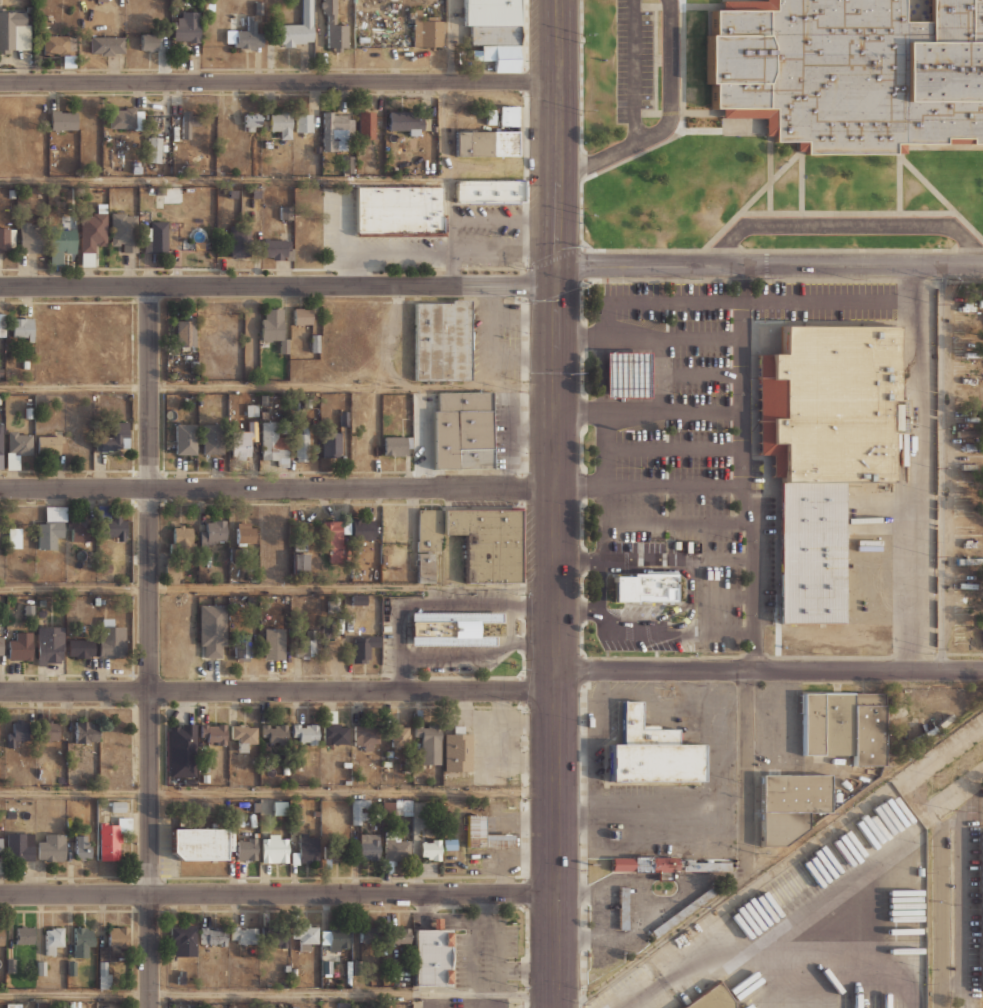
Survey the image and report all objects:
building: (489, 21)
building: (334, 27)
building: (187, 28)
building: (297, 30)
building: (427, 30)
building: (15, 31)
building: (248, 37)
road: (451, 40)
building: (149, 41)
building: (107, 44)
building: (60, 46)
building: (504, 58)
parking lot: (633, 60)
road: (634, 71)
building: (850, 71)
road: (277, 81)
building: (508, 115)
building: (491, 116)
building: (126, 118)
building: (63, 120)
building: (210, 121)
building: (252, 121)
building: (188, 122)
building: (304, 122)
building: (407, 122)
building: (281, 124)
building: (367, 124)
road: (666, 124)
building: (336, 129)
building: (487, 142)
building: (154, 149)
road: (222, 179)
road: (446, 182)
building: (490, 191)
building: (399, 211)
building: (286, 212)
road: (502, 217)
road: (844, 225)
building: (137, 233)
parking lot: (491, 233)
building: (92, 236)
building: (30, 237)
building: (5, 238)
parking lot: (368, 238)
building: (238, 242)
building: (61, 244)
road: (555, 244)
building: (277, 248)
road: (364, 249)
road: (502, 249)
road: (768, 262)
road: (354, 267)
traffic signals: (555, 274)
road: (278, 285)
building: (968, 292)
parking lot: (824, 299)
road: (740, 300)
building: (981, 301)
building: (966, 307)
building: (302, 316)
building: (216, 322)
building: (2, 324)
building: (271, 324)
building: (23, 328)
building: (186, 334)
road: (493, 336)
building: (969, 337)
road: (642, 338)
road: (697, 338)
building: (443, 340)
parking lot: (495, 340)
building: (970, 354)
building: (969, 369)
road: (697, 374)
building: (619, 378)
gas station: (619, 378)
road: (277, 387)
building: (968, 401)
building: (822, 408)
road: (669, 410)
building: (462, 430)
building: (970, 433)
building: (245, 436)
building: (1, 437)
building: (115, 438)
building: (185, 438)
building: (212, 439)
building: (20, 442)
building: (76, 443)
building: (50, 444)
building: (273, 444)
building: (302, 444)
building: (331, 444)
parking lot: (683, 444)
building: (394, 446)
road: (669, 447)
building: (969, 448)
road: (602, 461)
road: (943, 465)
road: (921, 466)
building: (967, 466)
road: (736, 468)
building: (971, 483)
road: (669, 484)
road: (578, 487)
road: (148, 488)
road: (277, 488)
road: (676, 520)
building: (114, 526)
building: (51, 527)
building: (975, 527)
building: (79, 529)
building: (364, 529)
building: (213, 533)
building: (246, 533)
building: (14, 537)
building: (182, 538)
building: (334, 541)
building: (474, 542)
building: (969, 543)
building: (804, 556)
road: (624, 558)
road: (722, 558)
building: (385, 560)
building: (970, 561)
building: (300, 562)
building: (397, 568)
road: (685, 571)
road: (597, 584)
road: (556, 585)
building: (966, 585)
road: (278, 588)
building: (639, 590)
road: (719, 594)
road: (460, 604)
road: (603, 615)
road: (681, 622)
road: (511, 624)
building: (969, 625)
building: (451, 627)
building: (212, 630)
road: (707, 631)
building: (111, 638)
building: (274, 643)
parking lot: (669, 643)
building: (50, 645)
road: (399, 645)
building: (21, 646)
building: (243, 646)
building: (1, 648)
building: (81, 648)
building: (305, 648)
building: (358, 651)
road: (456, 656)
road: (770, 671)
road: (278, 691)
building: (844, 725)
building: (51, 730)
building: (86, 731)
building: (17, 732)
building: (213, 733)
building: (244, 733)
building: (274, 733)
building: (305, 733)
building: (335, 733)
building: (399, 734)
building: (366, 737)
building: (429, 743)
building: (182, 749)
building: (458, 751)
building: (651, 752)
road: (746, 770)
road: (278, 792)
building: (790, 805)
building: (396, 807)
building: (280, 808)
building: (360, 811)
building: (484, 834)
building: (113, 838)
building: (198, 843)
road: (557, 844)
building: (20, 846)
building: (83, 846)
building: (369, 846)
building: (1, 847)
building: (52, 848)
building: (247, 848)
building: (274, 848)
building: (397, 848)
building: (431, 848)
road: (150, 849)
building: (308, 849)
building: (336, 849)
building: (665, 865)
road: (278, 893)
building: (624, 908)
building: (684, 910)
building: (982, 910)
road: (942, 918)
building: (369, 932)
building: (244, 934)
building: (25, 935)
building: (306, 935)
building: (400, 935)
building: (1, 936)
building: (214, 936)
building: (276, 936)
building: (53, 938)
building: (335, 938)
building: (183, 940)
building: (82, 941)
road: (772, 942)
building: (114, 945)
building: (432, 955)
building: (10, 964)
building: (41, 966)
road: (832, 975)
road: (774, 992)
road: (917, 992)
road: (278, 994)
building: (712, 998)
building: (74, 1003)
building: (41, 1004)
building: (191, 1004)
building: (13, 1005)
road: (554, 1005)
building: (106, 1006)

